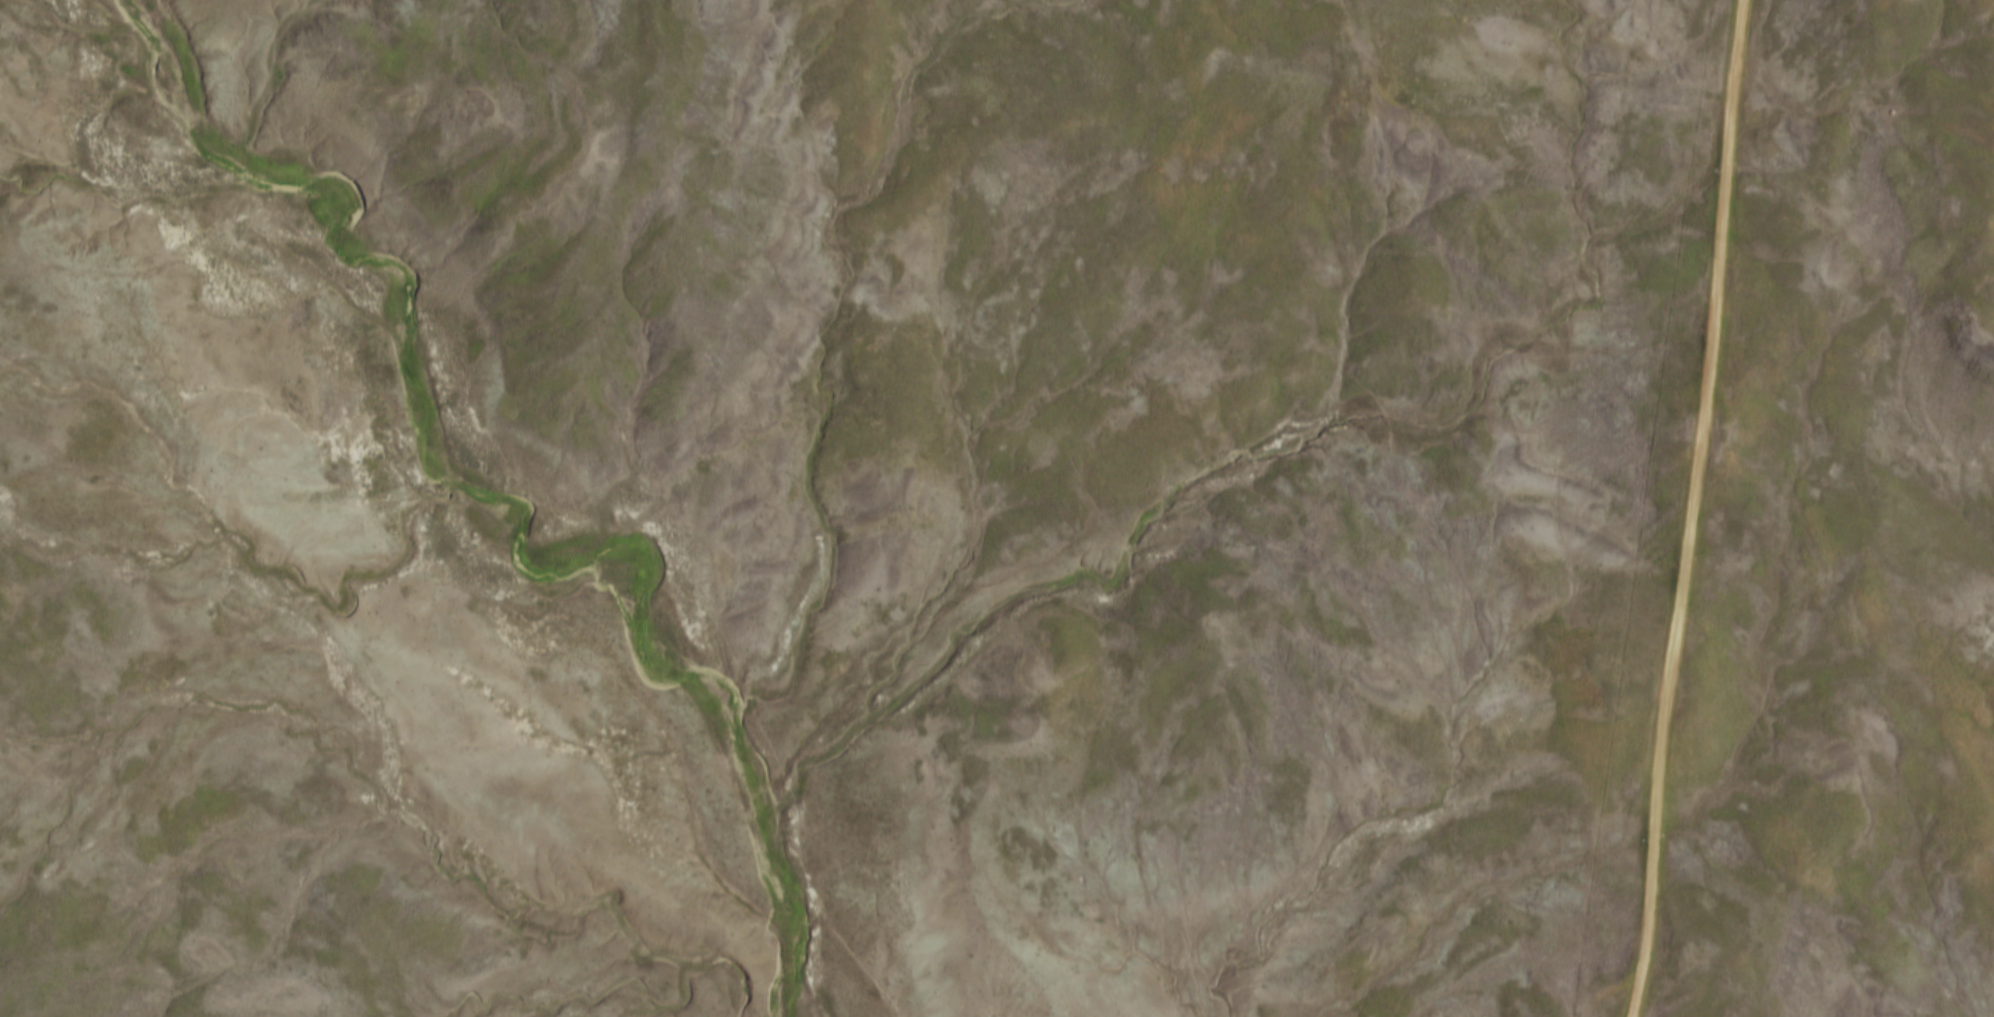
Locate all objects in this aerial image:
road: (1691, 509)

